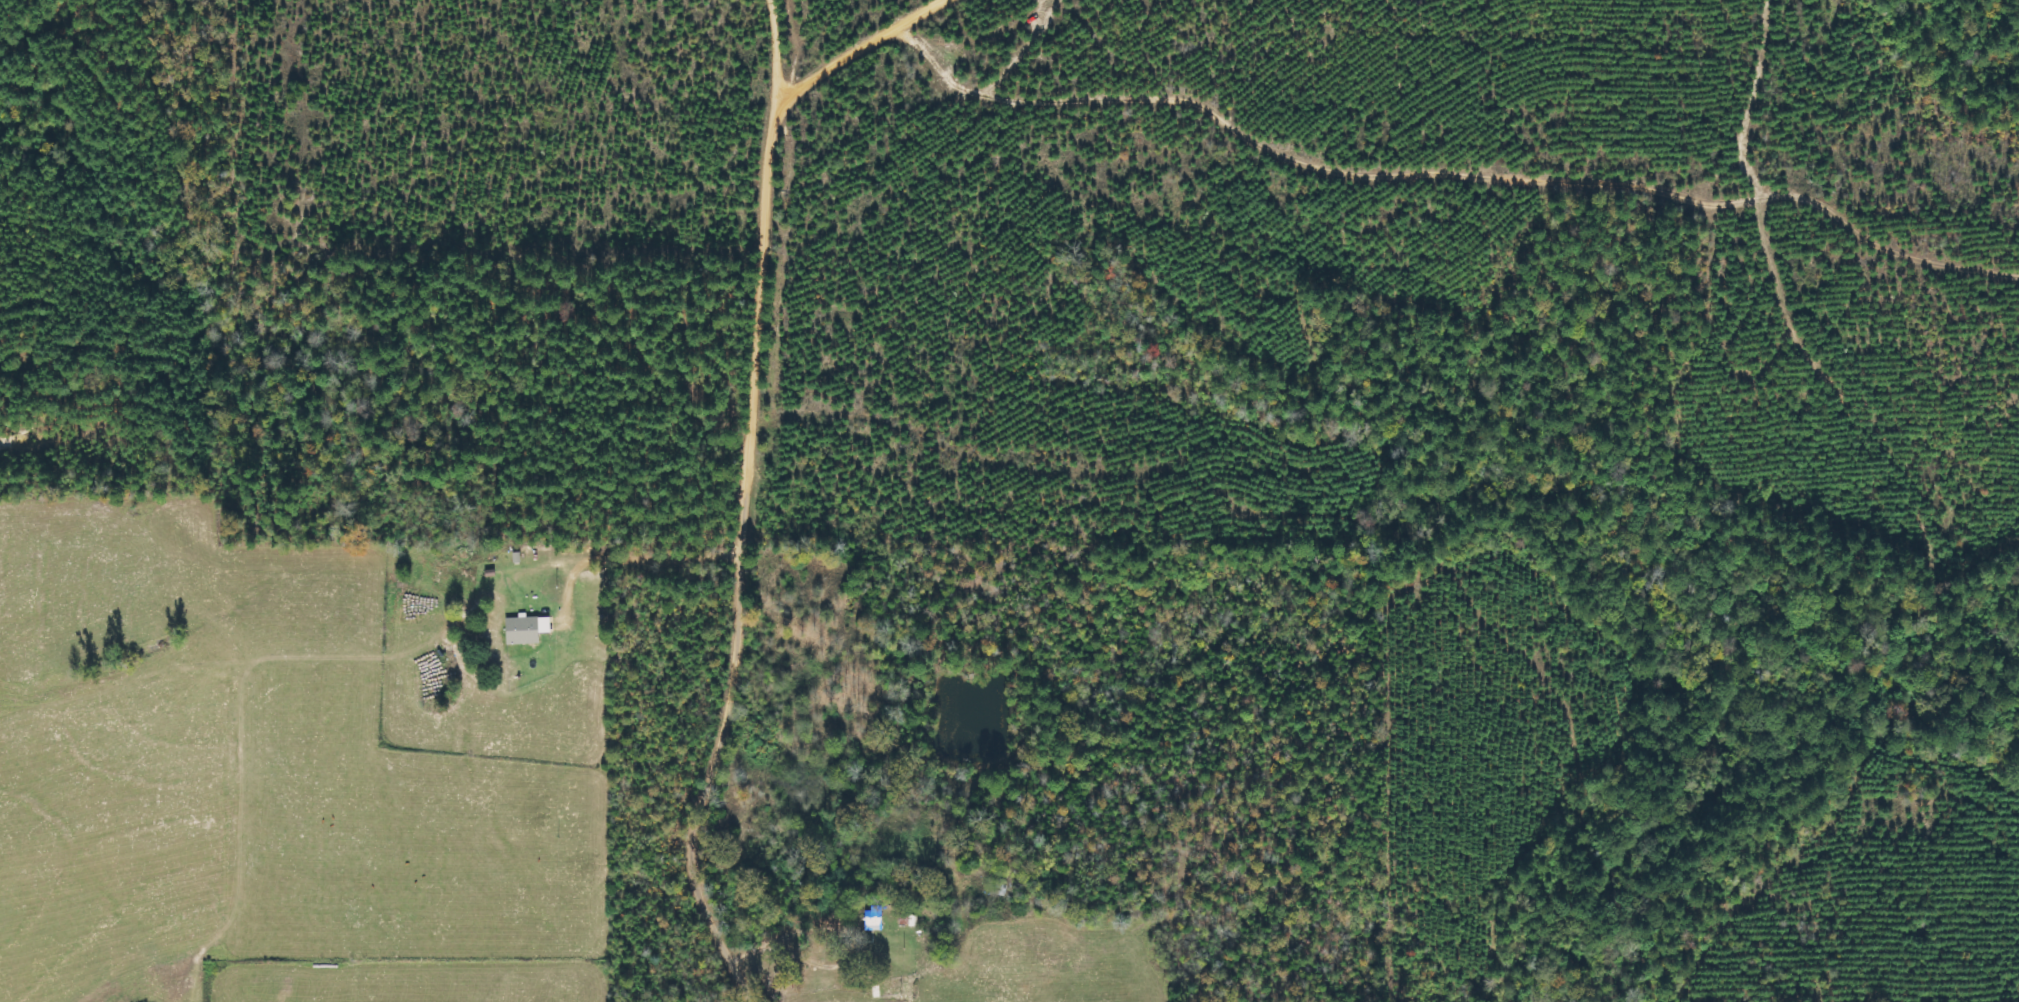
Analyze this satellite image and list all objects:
road: (859, 56)
road: (753, 509)
building: (523, 629)
building: (873, 918)

